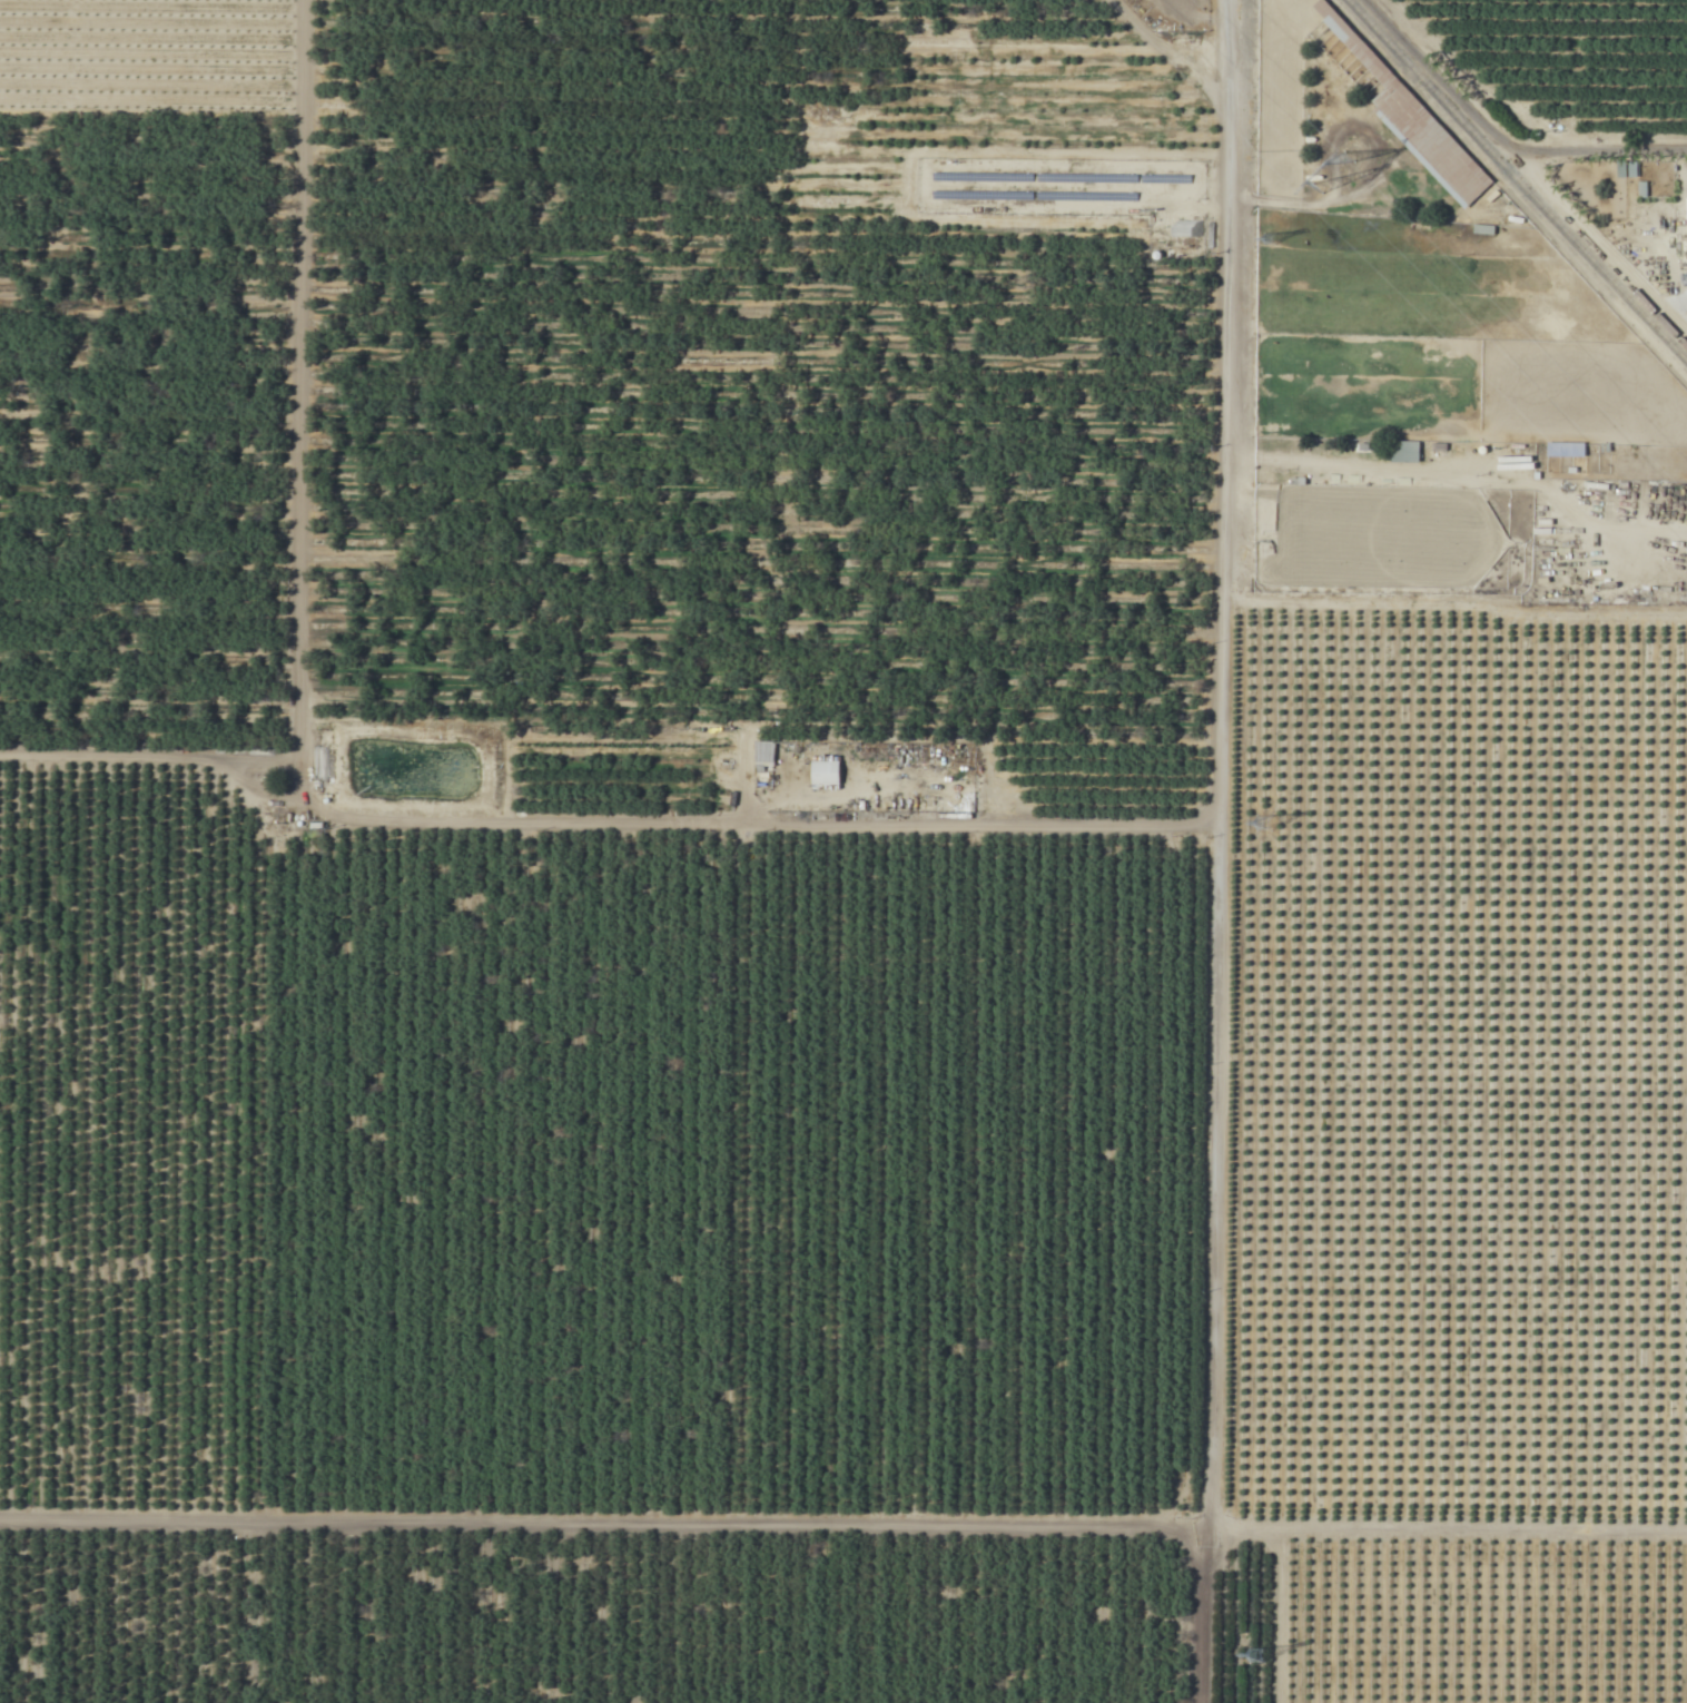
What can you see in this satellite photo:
building: (1397, 106)
power tower: (1332, 177)
railway: (1517, 180)
road: (1273, 201)
road: (1231, 372)
road: (317, 394)
building: (1565, 450)
building: (1403, 452)
building: (763, 755)
road: (608, 774)
building: (823, 774)
crop: (843, 851)
building: (1234, 951)
building: (1232, 1182)
road: (1210, 1223)
building: (1229, 1399)
road: (842, 1519)

